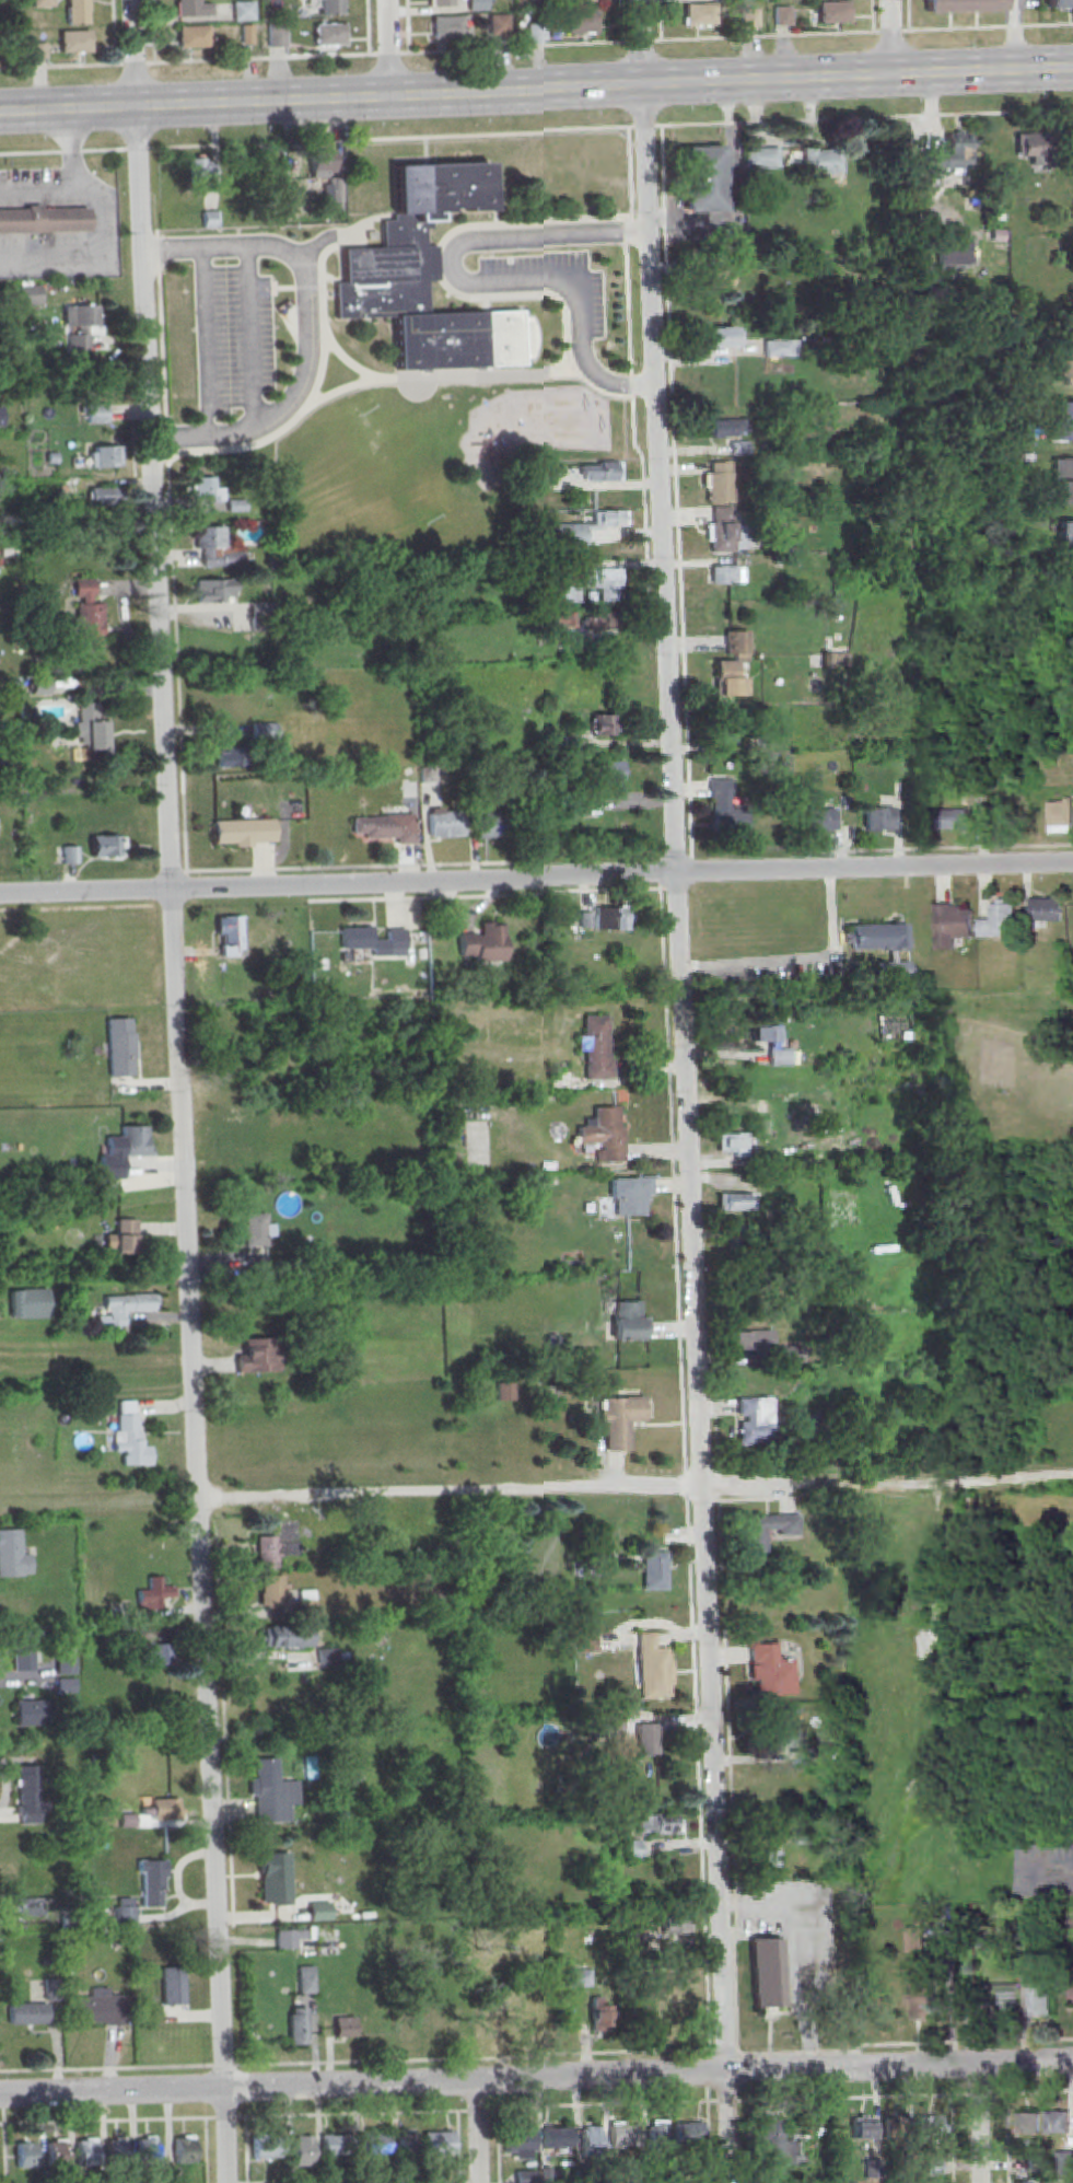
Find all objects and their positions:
building: (584, 1)
building: (43, 2)
building: (442, 2)
building: (1060, 3)
building: (476, 4)
building: (331, 7)
building: (964, 7)
building: (194, 8)
building: (244, 10)
building: (77, 11)
building: (833, 13)
building: (700, 15)
road: (909, 15)
road: (873, 16)
building: (783, 18)
building: (750, 19)
road: (621, 21)
road: (661, 21)
building: (498, 23)
building: (583, 23)
road: (408, 25)
building: (446, 25)
road: (368, 26)
road: (114, 31)
road: (153, 31)
building: (535, 32)
building: (248, 33)
building: (328, 33)
building: (193, 34)
road: (1017, 35)
road: (890, 38)
building: (75, 40)
road: (536, 46)
road: (387, 47)
building: (39, 48)
road: (131, 53)
road: (536, 90)
road: (642, 126)
road: (106, 149)
building: (1035, 149)
building: (949, 155)
building: (763, 159)
building: (320, 161)
building: (821, 162)
building: (202, 167)
building: (704, 179)
road: (733, 190)
building: (210, 218)
building: (43, 219)
road: (100, 219)
road: (326, 236)
building: (954, 253)
building: (427, 275)
road: (487, 277)
building: (716, 279)
road: (296, 286)
road: (273, 287)
building: (30, 293)
road: (555, 297)
road: (304, 324)
building: (79, 325)
road: (250, 335)
building: (721, 339)
road: (205, 341)
building: (781, 350)
road: (345, 357)
building: (1064, 368)
road: (633, 390)
road: (310, 396)
building: (97, 413)
building: (1, 416)
building: (1063, 422)
building: (728, 429)
building: (738, 449)
building: (104, 455)
building: (600, 473)
building: (540, 477)
building: (1063, 481)
building: (719, 484)
building: (206, 488)
building: (102, 495)
road: (678, 500)
building: (587, 530)
building: (724, 532)
building: (1065, 535)
building: (208, 536)
road: (172, 548)
building: (727, 576)
building: (605, 584)
building: (213, 590)
building: (564, 597)
building: (88, 614)
building: (600, 623)
building: (732, 664)
building: (605, 727)
building: (93, 730)
building: (228, 755)
building: (613, 778)
building: (725, 811)
building: (964, 815)
building: (880, 820)
building: (820, 821)
building: (444, 822)
building: (490, 823)
building: (1061, 824)
building: (386, 826)
building: (243, 831)
building: (107, 845)
building: (70, 854)
road: (386, 864)
road: (536, 878)
road: (493, 894)
road: (160, 904)
road: (75, 906)
building: (1046, 911)
building: (606, 920)
building: (1001, 922)
building: (953, 927)
building: (229, 936)
building: (878, 938)
building: (372, 940)
building: (482, 942)
road: (801, 962)
building: (766, 1035)
building: (118, 1045)
building: (595, 1049)
building: (779, 1058)
road: (649, 1068)
road: (686, 1091)
building: (604, 1135)
road: (179, 1145)
building: (732, 1145)
building: (229, 1148)
building: (121, 1150)
building: (630, 1196)
building: (736, 1204)
building: (256, 1229)
building: (121, 1238)
building: (27, 1302)
building: (125, 1309)
building: (630, 1323)
building: (751, 1342)
building: (258, 1355)
building: (791, 1356)
building: (504, 1390)
building: (756, 1421)
building: (621, 1423)
building: (129, 1437)
road: (686, 1474)
road: (634, 1488)
building: (755, 1534)
building: (279, 1543)
building: (13, 1554)
building: (656, 1574)
building: (271, 1590)
building: (153, 1593)
building: (306, 1602)
building: (285, 1636)
building: (588, 1645)
building: (23, 1649)
building: (152, 1652)
building: (326, 1656)
building: (65, 1664)
building: (653, 1670)
building: (771, 1672)
building: (30, 1711)
building: (615, 1726)
building: (781, 1732)
building: (648, 1741)
building: (271, 1791)
building: (27, 1793)
building: (159, 1808)
building: (657, 1825)
building: (803, 1839)
building: (633, 1851)
building: (767, 1860)
road: (1057, 1866)
parking lot: (1043, 1872)
building: (151, 1877)
building: (273, 1879)
building: (30, 1905)
building: (317, 1909)
building: (124, 1911)
building: (675, 1927)
building: (289, 1937)
building: (915, 1942)
building: (768, 1975)
building: (305, 1978)
building: (579, 1978)
building: (172, 1986)
building: (1041, 2001)
building: (923, 2007)
building: (100, 2009)
building: (27, 2013)
building: (599, 2017)
building: (411, 2020)
building: (294, 2024)
building: (343, 2025)
road: (896, 2045)
road: (361, 2059)
road: (495, 2067)
road: (536, 2078)
road: (679, 2102)
road: (198, 2117)
road: (2, 2122)
road: (26, 2122)
road: (978, 2124)
building: (1059, 2125)
building: (1029, 2126)
road: (747, 2127)
building: (933, 2127)
road: (708, 2128)
road: (495, 2130)
road: (475, 2132)
building: (863, 2133)
building: (688, 2134)
building: (657, 2136)
building: (626, 2137)
road: (1007, 2138)
building: (406, 2139)
building: (557, 2139)
building: (588, 2139)
road: (953, 2139)
building: (518, 2140)
building: (438, 2143)
building: (373, 2144)
building: (336, 2146)
road: (456, 2146)
building: (773, 2146)
building: (266, 2148)
road: (245, 2149)
road: (207, 2150)
building: (145, 2151)
building: (184, 2151)
building: (301, 2151)
building: (116, 2152)
building: (85, 2153)
building: (25, 2155)
building: (56, 2155)
building: (1066, 2162)
building: (933, 2169)

